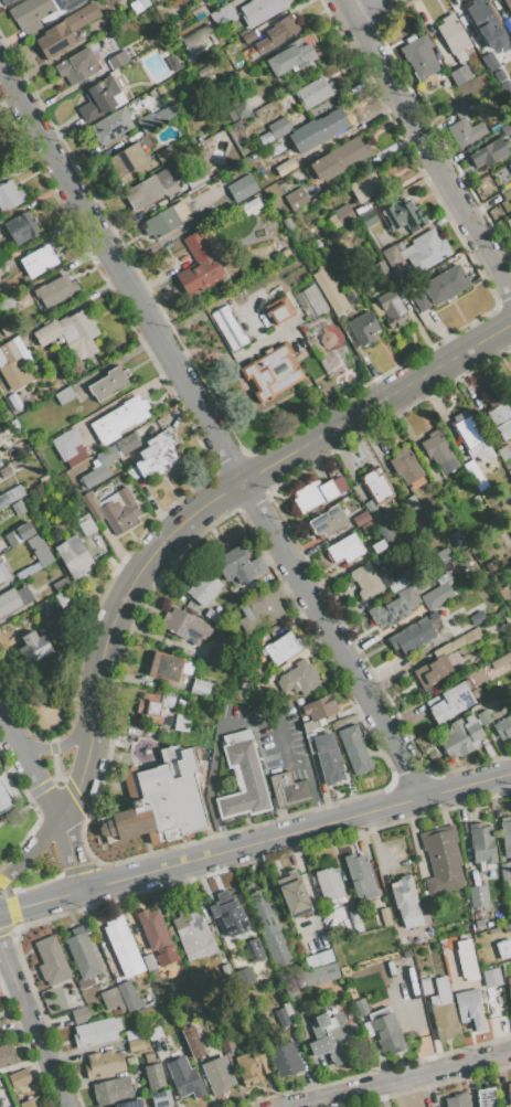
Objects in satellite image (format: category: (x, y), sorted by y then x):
building: (151, 0)
building: (156, 0)
building: (6, 1)
building: (71, 3)
building: (508, 3)
road: (360, 7)
building: (260, 10)
building: (31, 14)
building: (222, 15)
building: (481, 17)
building: (64, 31)
building: (278, 33)
building: (249, 36)
building: (454, 36)
building: (510, 36)
building: (198, 40)
building: (290, 56)
building: (419, 56)
building: (118, 60)
building: (490, 61)
building: (173, 63)
building: (76, 66)
building: (460, 75)
building: (499, 75)
building: (505, 86)
building: (313, 92)
building: (100, 98)
building: (236, 109)
building: (167, 114)
building: (147, 123)
building: (110, 127)
building: (322, 127)
building: (465, 127)
building: (279, 128)
building: (507, 129)
building: (266, 138)
building: (145, 142)
road: (425, 148)
building: (488, 153)
building: (164, 155)
building: (339, 159)
building: (128, 160)
building: (1, 164)
building: (510, 166)
building: (6, 174)
building: (195, 180)
building: (369, 185)
building: (148, 188)
building: (242, 188)
building: (10, 195)
building: (298, 199)
building: (251, 206)
building: (181, 212)
building: (340, 216)
building: (403, 216)
building: (368, 219)
building: (161, 223)
building: (509, 223)
building: (21, 227)
building: (418, 252)
building: (39, 260)
building: (7, 265)
building: (199, 266)
building: (375, 270)
building: (0, 274)
building: (341, 275)
building: (445, 285)
building: (55, 290)
building: (330, 290)
building: (10, 302)
building: (311, 302)
building: (422, 302)
building: (392, 309)
building: (280, 311)
building: (259, 312)
building: (228, 327)
building: (363, 328)
building: (73, 334)
building: (331, 348)
building: (8, 351)
building: (270, 373)
building: (108, 383)
building: (509, 392)
building: (64, 395)
road: (377, 403)
building: (7, 415)
building: (500, 416)
building: (118, 419)
building: (0, 422)
building: (159, 423)
road: (213, 426)
building: (11, 428)
building: (471, 436)
building: (127, 443)
building: (66, 444)
building: (26, 446)
building: (438, 453)
building: (503, 453)
building: (158, 454)
building: (107, 455)
building: (78, 459)
building: (0, 465)
building: (405, 466)
building: (4, 471)
building: (510, 472)
building: (132, 473)
building: (476, 476)
building: (95, 477)
building: (43, 479)
building: (437, 480)
building: (18, 491)
building: (313, 494)
building: (6, 499)
building: (377, 499)
building: (411, 504)
building: (89, 505)
building: (19, 508)
building: (120, 512)
building: (360, 518)
building: (328, 521)
building: (85, 524)
building: (490, 525)
building: (509, 529)
building: (19, 533)
building: (458, 539)
building: (377, 545)
building: (344, 549)
building: (73, 555)
building: (443, 555)
building: (35, 556)
building: (239, 564)
building: (3, 573)
building: (408, 575)
road: (134, 579)
building: (365, 581)
building: (61, 583)
building: (397, 584)
building: (204, 589)
building: (437, 596)
building: (63, 597)
building: (13, 599)
building: (394, 608)
building: (510, 610)
building: (259, 613)
building: (433, 616)
building: (477, 618)
building: (184, 626)
building: (454, 628)
building: (412, 636)
building: (471, 638)
building: (448, 647)
building: (34, 648)
building: (283, 648)
building: (220, 658)
building: (500, 660)
building: (166, 667)
building: (430, 673)
building: (299, 679)
building: (200, 688)
building: (262, 688)
building: (453, 701)
building: (152, 707)
building: (318, 711)
building: (483, 717)
road: (243, 720)
building: (182, 723)
road: (8, 727)
building: (503, 728)
building: (461, 737)
road: (57, 746)
building: (354, 749)
building: (328, 758)
road: (55, 763)
road: (83, 770)
road: (39, 777)
road: (63, 778)
building: (243, 780)
building: (289, 789)
building: (4, 800)
building: (160, 800)
building: (510, 818)
building: (505, 838)
road: (255, 842)
building: (482, 843)
road: (32, 850)
road: (70, 851)
building: (443, 860)
building: (359, 874)
building: (505, 874)
building: (329, 883)
building: (294, 895)
building: (478, 896)
building: (405, 898)
building: (226, 912)
building: (385, 916)
building: (355, 920)
building: (268, 927)
building: (170, 932)
building: (193, 934)
building: (323, 937)
building: (121, 943)
building: (159, 943)
building: (503, 948)
building: (255, 949)
building: (83, 956)
building: (319, 958)
building: (467, 960)
building: (52, 961)
building: (149, 962)
road: (9, 968)
building: (226, 971)
building: (318, 975)
building: (491, 977)
building: (204, 984)
building: (425, 986)
building: (290, 989)
building: (509, 990)
building: (129, 996)
building: (110, 999)
building: (360, 1007)
building: (470, 1008)
building: (287, 1009)
building: (443, 1011)
building: (79, 1014)
building: (283, 1016)
building: (96, 1031)
building: (386, 1031)
building: (153, 1033)
building: (132, 1034)
building: (332, 1039)
building: (227, 1040)
building: (193, 1042)
building: (136, 1044)
road: (42, 1047)
building: (6, 1055)
building: (148, 1057)
building: (285, 1060)
building: (104, 1064)
building: (252, 1067)
building: (153, 1075)
building: (217, 1075)
building: (19, 1078)
building: (184, 1078)
road: (396, 1078)
building: (111, 1090)
building: (508, 1095)
building: (486, 1098)
building: (161, 1099)
building: (457, 1100)
building: (31, 1103)
building: (130, 1104)
building: (14, 1106)

